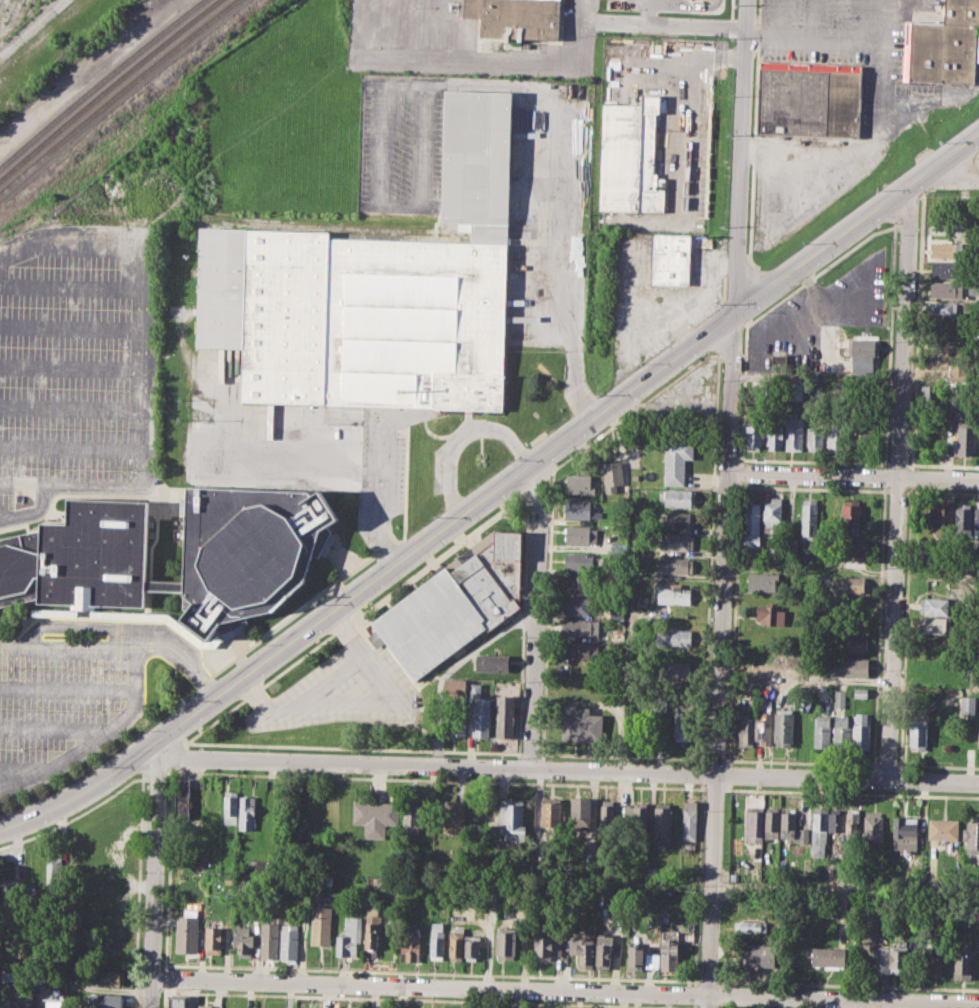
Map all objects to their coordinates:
road: (665, 1)
road: (688, 7)
road: (888, 10)
building: (518, 19)
road: (661, 24)
road: (32, 27)
road: (781, 39)
building: (946, 45)
road: (506, 63)
railway: (99, 81)
railway: (107, 87)
railway: (116, 94)
building: (809, 101)
road: (882, 116)
road: (684, 144)
road: (739, 156)
building: (630, 158)
road: (955, 176)
road: (855, 221)
building: (947, 249)
building: (674, 259)
road: (573, 268)
building: (947, 269)
road: (71, 287)
building: (946, 289)
building: (379, 296)
building: (946, 308)
building: (863, 326)
road: (70, 328)
building: (944, 328)
parking lot: (779, 338)
building: (862, 347)
building: (945, 350)
parking lot: (75, 365)
building: (863, 366)
road: (70, 370)
road: (140, 372)
building: (957, 373)
building: (929, 396)
road: (70, 411)
building: (862, 428)
building: (794, 433)
road: (460, 434)
building: (774, 434)
building: (754, 435)
building: (836, 435)
building: (966, 437)
building: (814, 438)
building: (978, 444)
road: (69, 449)
building: (676, 460)
road: (243, 465)
building: (612, 475)
road: (853, 478)
building: (579, 483)
road: (897, 483)
road: (378, 494)
building: (678, 497)
building: (580, 508)
building: (850, 513)
building: (772, 515)
building: (680, 518)
building: (809, 518)
building: (963, 520)
building: (943, 521)
building: (977, 522)
building: (750, 524)
building: (579, 534)
building: (675, 541)
building: (789, 547)
building: (853, 547)
building: (75, 558)
building: (578, 561)
building: (674, 564)
building: (762, 581)
building: (579, 585)
building: (849, 585)
road: (374, 586)
building: (674, 594)
building: (855, 600)
building: (577, 605)
building: (452, 606)
building: (933, 606)
building: (616, 613)
building: (771, 615)
road: (537, 616)
building: (933, 625)
road: (96, 626)
building: (578, 627)
building: (674, 636)
building: (850, 643)
road: (120, 648)
building: (574, 649)
road: (720, 659)
building: (491, 662)
building: (761, 663)
road: (452, 666)
building: (849, 666)
building: (676, 670)
building: (455, 686)
road: (317, 687)
road: (67, 689)
building: (474, 689)
building: (861, 692)
building: (839, 698)
parking lot: (63, 703)
building: (660, 704)
building: (968, 705)
building: (804, 706)
building: (504, 715)
building: (481, 716)
building: (457, 717)
building: (582, 725)
building: (684, 725)
building: (745, 726)
building: (784, 727)
building: (764, 728)
building: (861, 730)
road: (52, 731)
building: (822, 731)
building: (842, 731)
building: (918, 733)
building: (978, 738)
road: (95, 739)
road: (565, 769)
road: (19, 770)
building: (181, 797)
building: (230, 807)
building: (453, 811)
building: (247, 812)
building: (580, 812)
building: (550, 814)
building: (374, 816)
building: (512, 818)
building: (608, 818)
building: (639, 818)
building: (853, 818)
building: (688, 819)
building: (412, 820)
building: (835, 821)
building: (663, 822)
building: (771, 822)
building: (788, 822)
building: (753, 824)
building: (873, 826)
building: (942, 829)
building: (818, 831)
building: (904, 832)
building: (972, 834)
building: (55, 877)
road: (151, 878)
road: (845, 889)
building: (11, 896)
building: (339, 907)
building: (832, 908)
building: (320, 924)
building: (372, 925)
building: (750, 925)
building: (187, 930)
building: (350, 937)
building: (243, 939)
building: (437, 939)
building: (214, 940)
building: (269, 940)
building: (289, 940)
building: (505, 943)
building: (410, 944)
building: (456, 944)
building: (471, 946)
building: (546, 946)
building: (584, 950)
building: (603, 951)
building: (668, 954)
building: (828, 955)
building: (635, 957)
building: (747, 957)
building: (899, 959)
building: (651, 960)
building: (932, 960)
building: (881, 965)
building: (962, 966)
building: (110, 977)
road: (563, 990)
building: (176, 1000)
building: (105, 1001)
building: (7, 1005)
building: (204, 1006)
building: (254, 1007)

